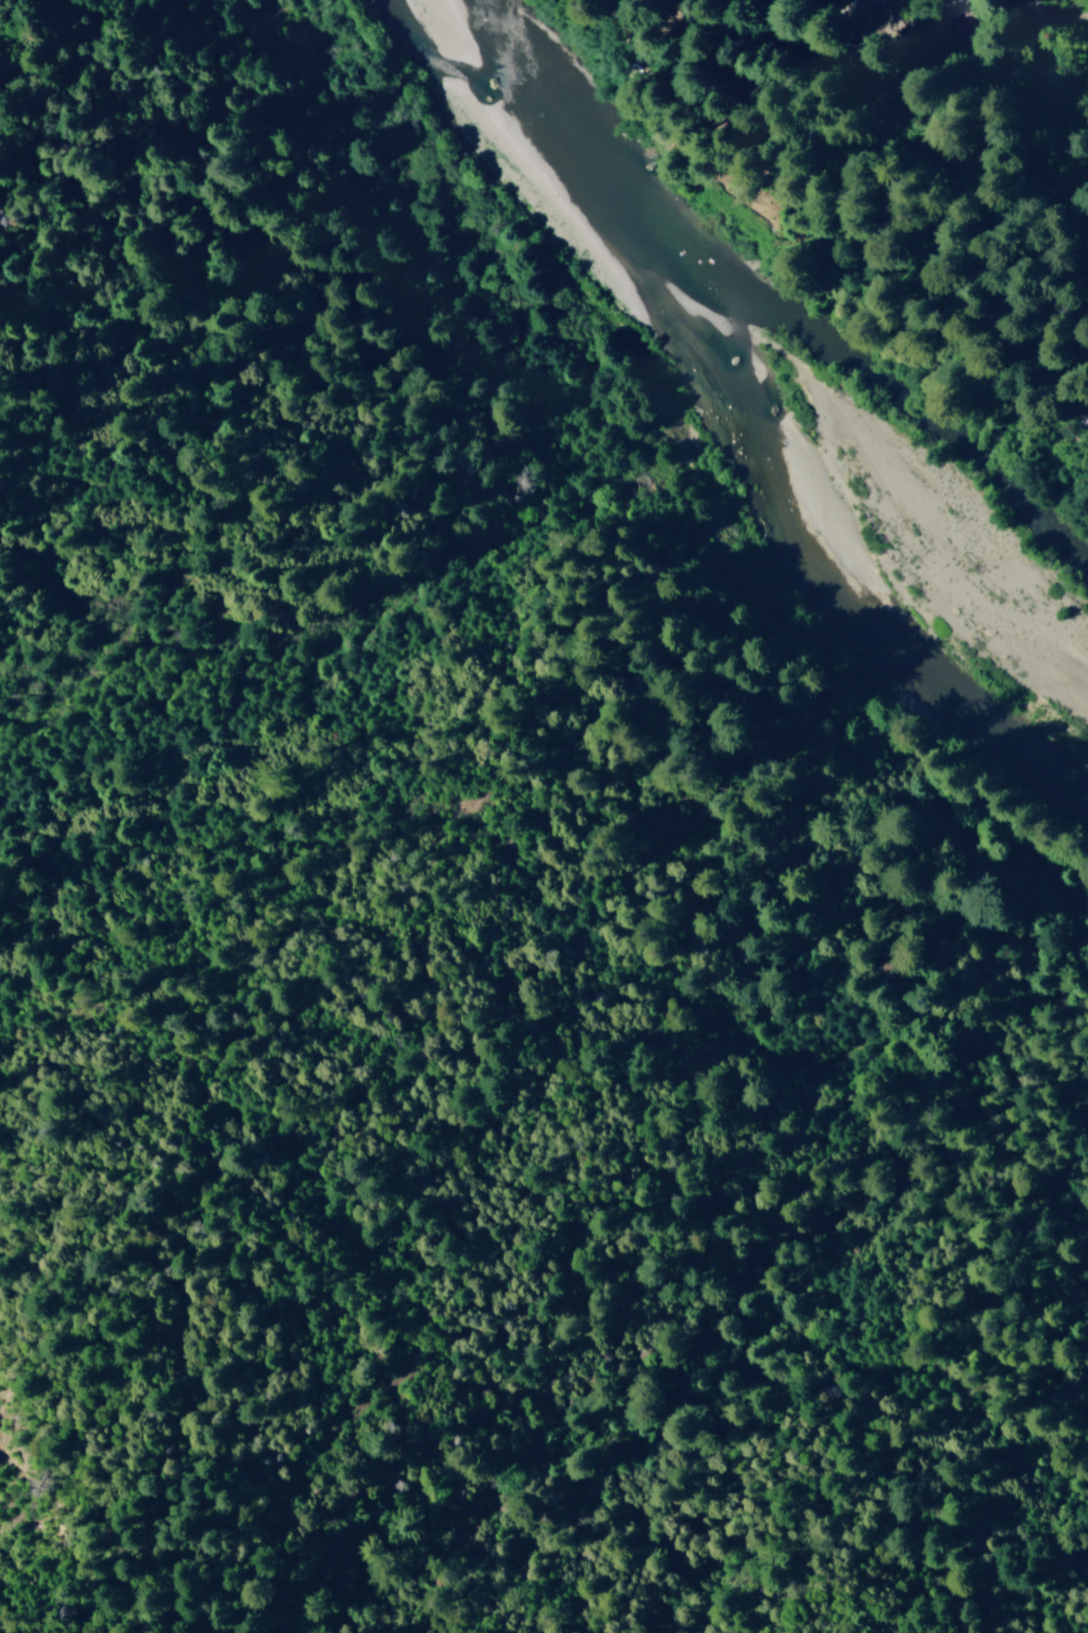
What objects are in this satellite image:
road: (1060, 9)
river: (905, 362)

